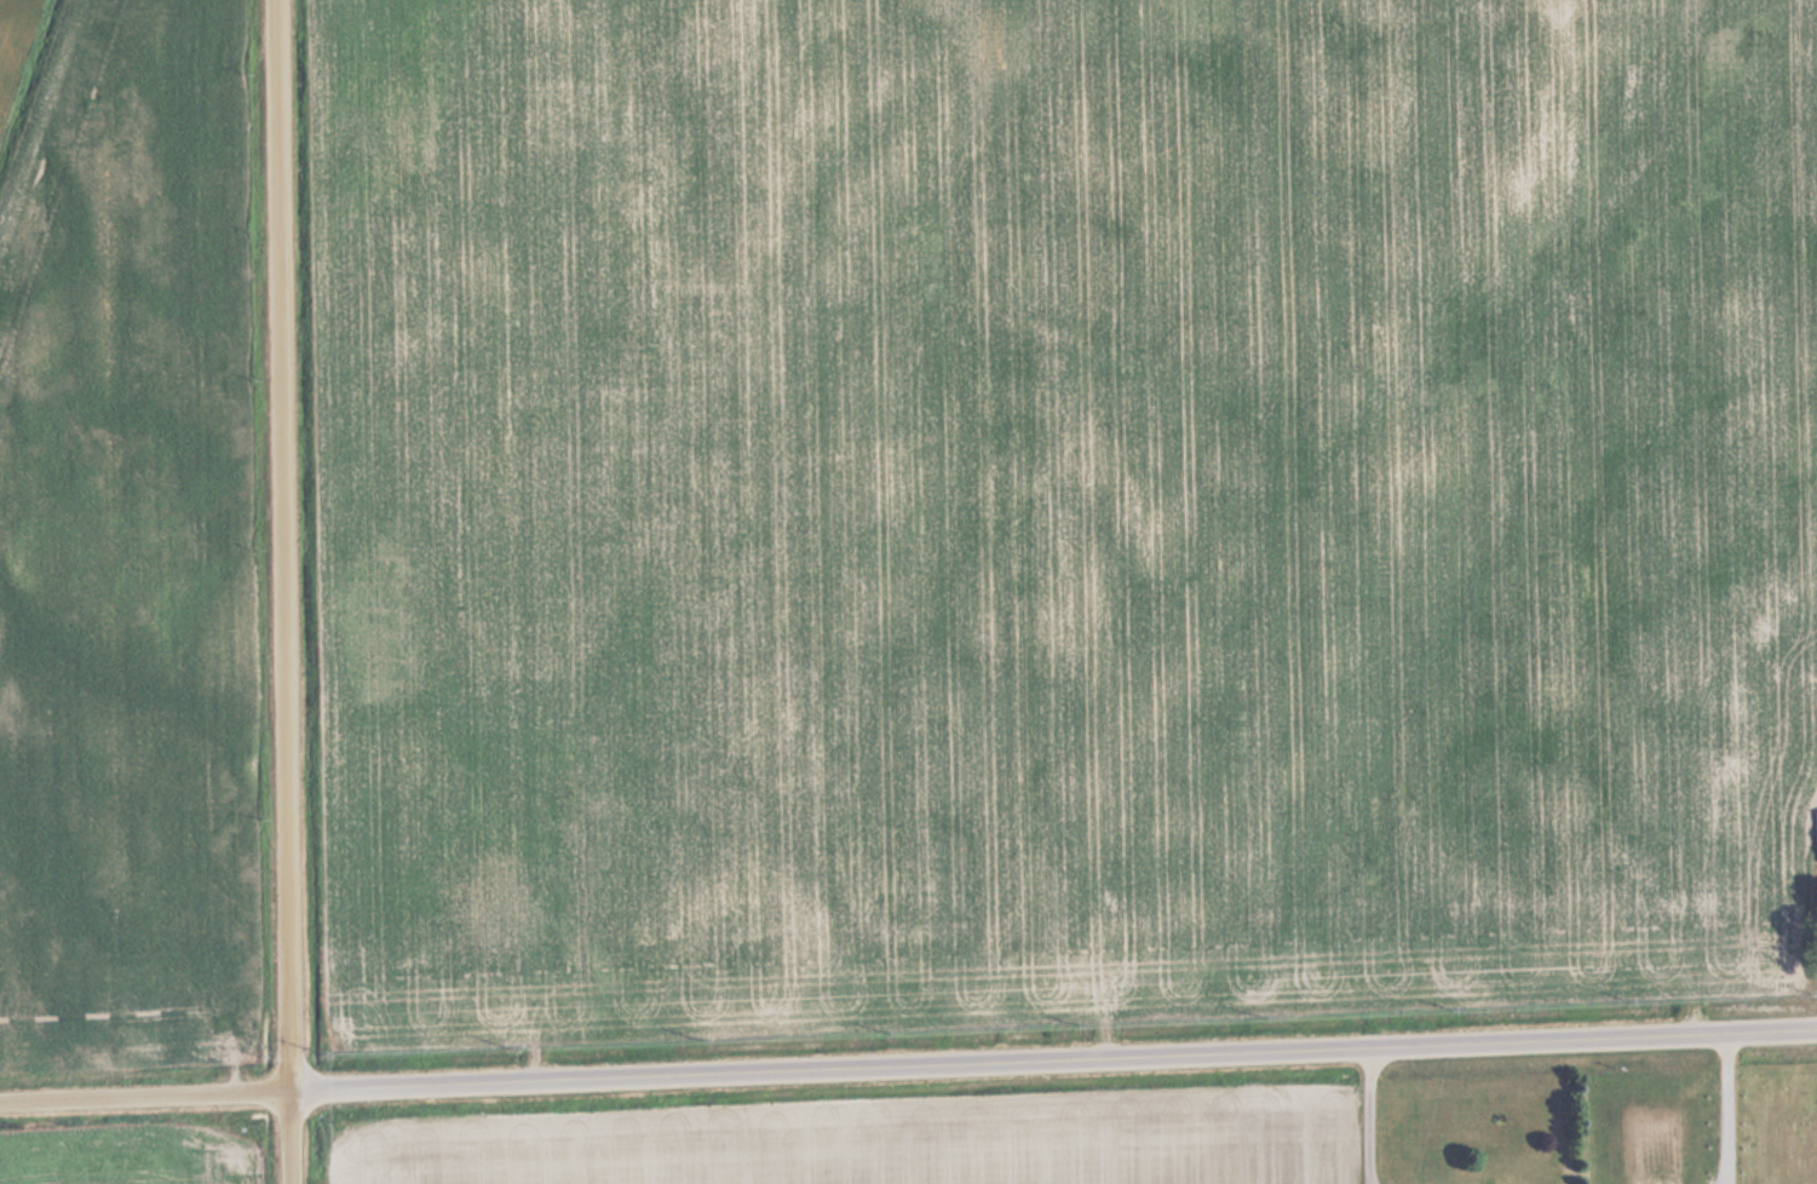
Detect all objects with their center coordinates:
road: (282, 592)
building: (1816, 834)
road: (908, 1062)

